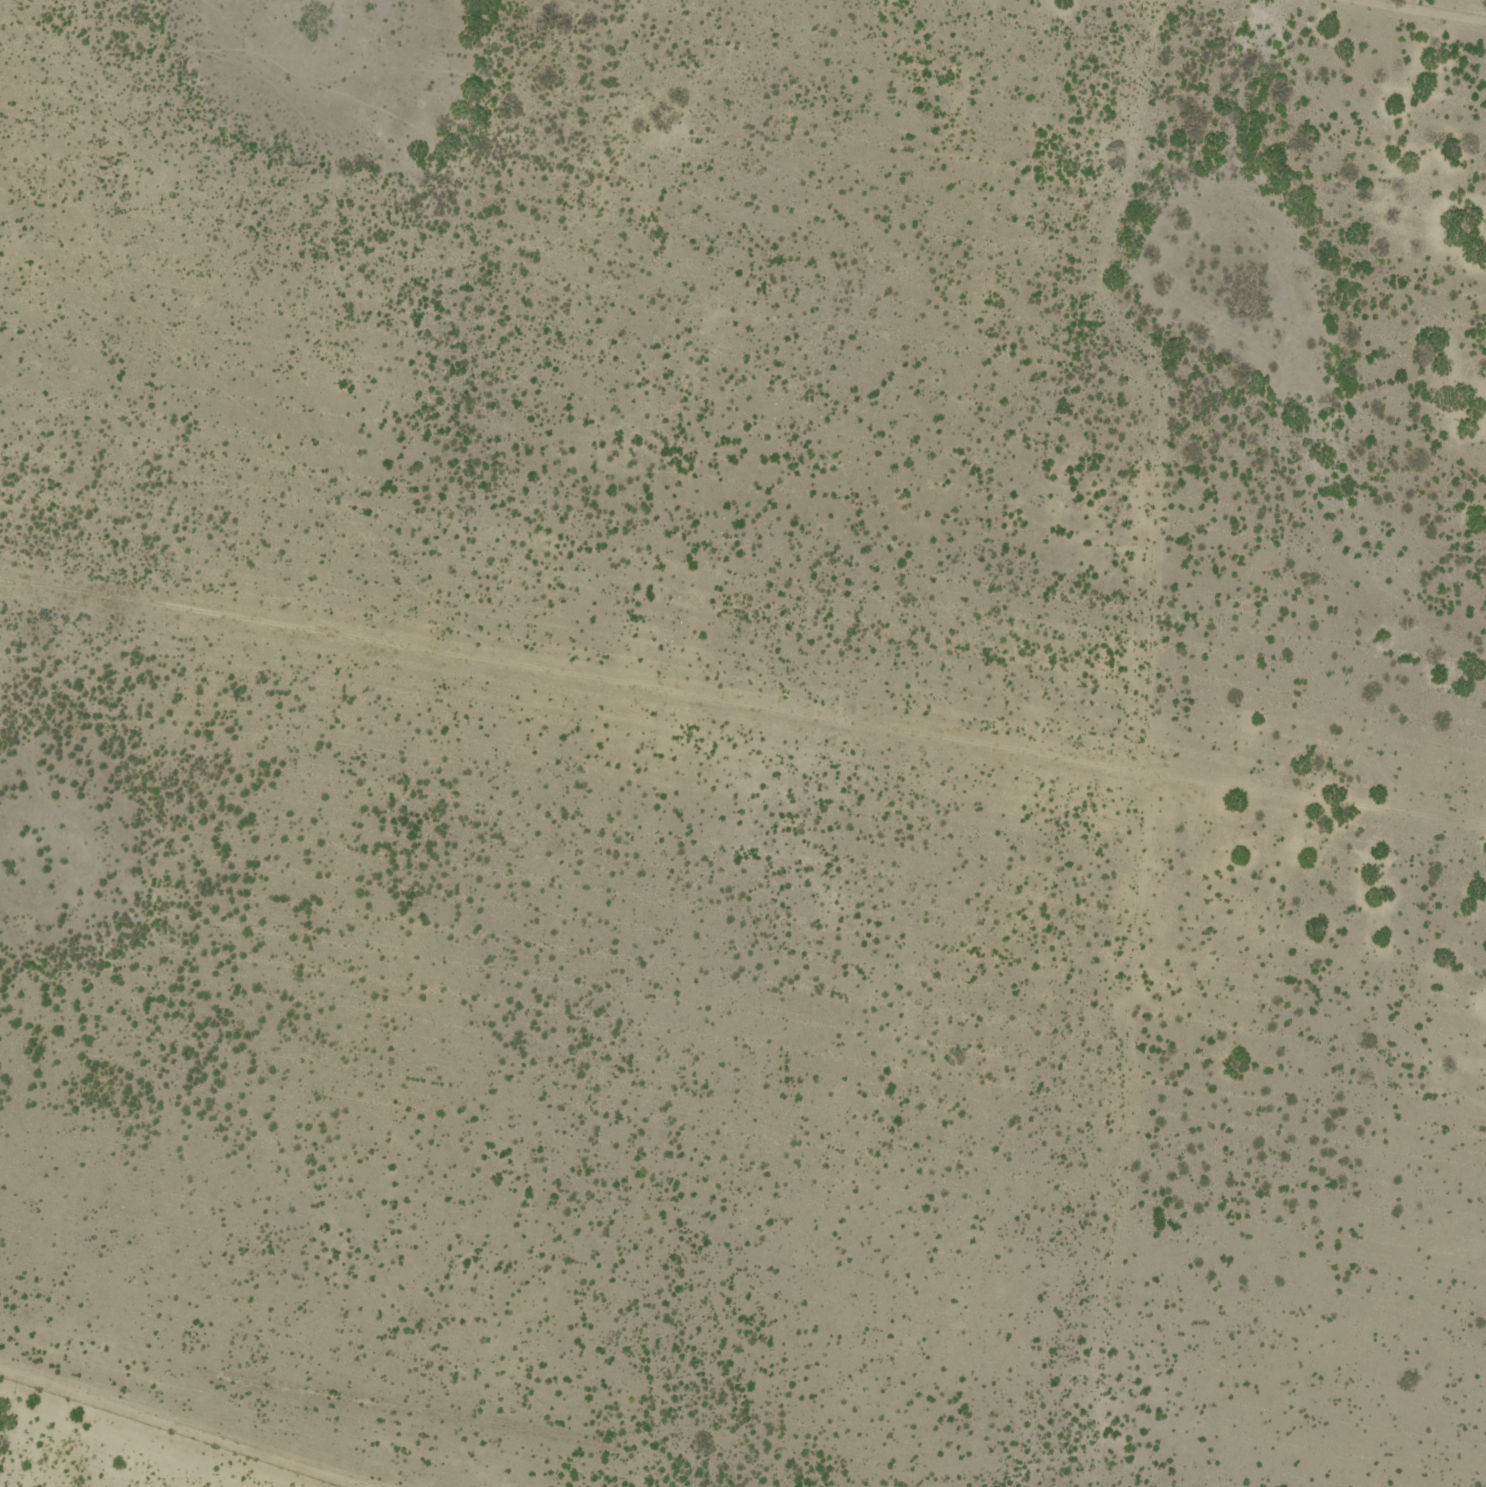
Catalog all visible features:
road: (189, 1426)

